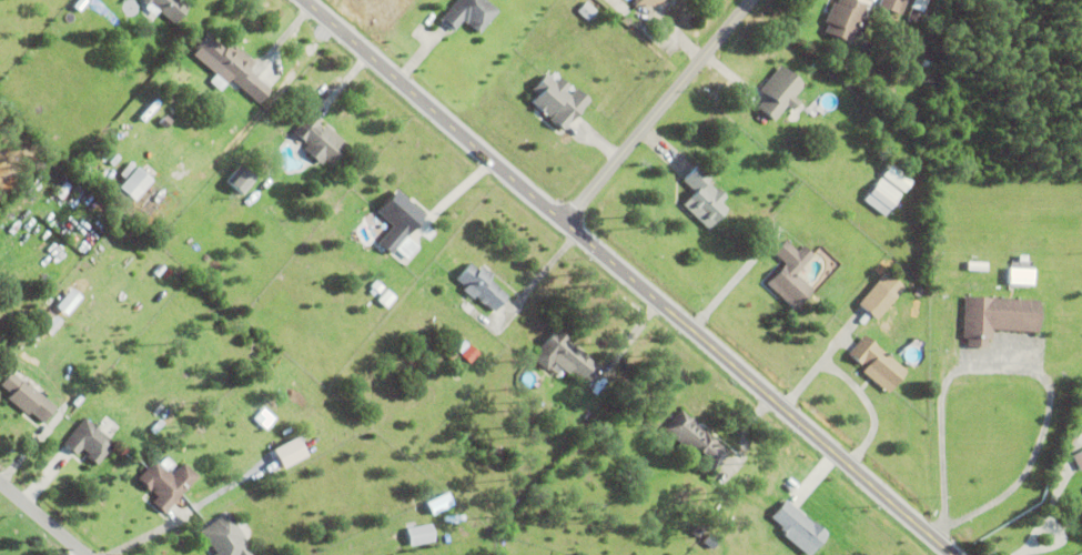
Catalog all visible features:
building: (648, 2)
building: (893, 4)
building: (171, 8)
building: (469, 13)
building: (913, 14)
building: (843, 18)
building: (926, 64)
building: (233, 69)
building: (779, 93)
building: (558, 100)
road: (656, 110)
building: (181, 120)
building: (324, 140)
building: (301, 148)
building: (253, 158)
building: (893, 178)
building: (236, 180)
building: (881, 196)
building: (141, 198)
building: (704, 198)
building: (132, 208)
building: (400, 219)
building: (1010, 250)
building: (1000, 264)
road: (539, 274)
building: (790, 274)
building: (1014, 275)
road: (630, 277)
building: (482, 286)
building: (376, 287)
building: (387, 299)
building: (876, 300)
building: (997, 317)
building: (47, 322)
building: (462, 346)
building: (563, 355)
building: (453, 356)
building: (876, 364)
road: (1027, 367)
building: (28, 397)
building: (270, 407)
building: (263, 421)
building: (155, 428)
building: (696, 440)
building: (90, 442)
building: (282, 453)
building: (1076, 458)
building: (168, 484)
road: (44, 515)
building: (798, 528)
building: (419, 535)
building: (219, 537)

